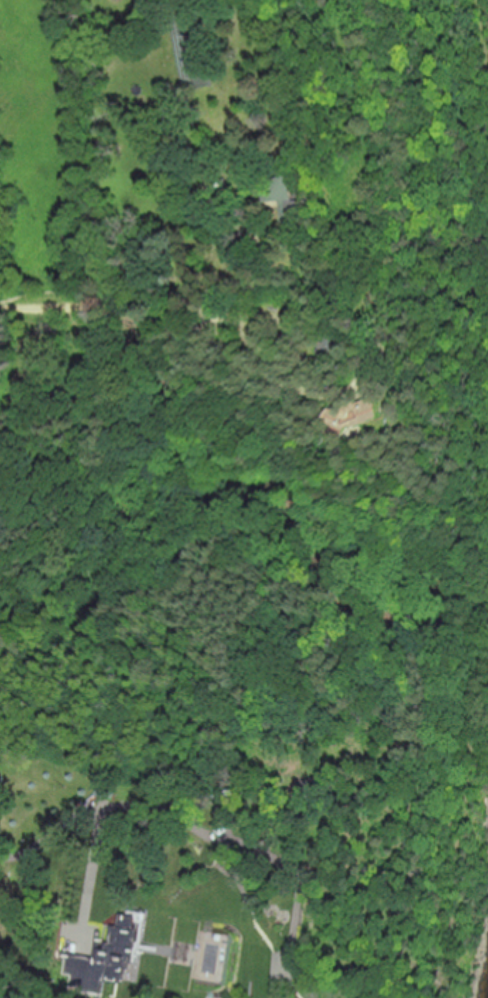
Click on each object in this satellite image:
park: (51, 153)
building: (286, 197)
road: (176, 309)
building: (361, 415)
road: (198, 824)
road: (50, 829)
road: (93, 863)
building: (256, 957)
building: (88, 973)

